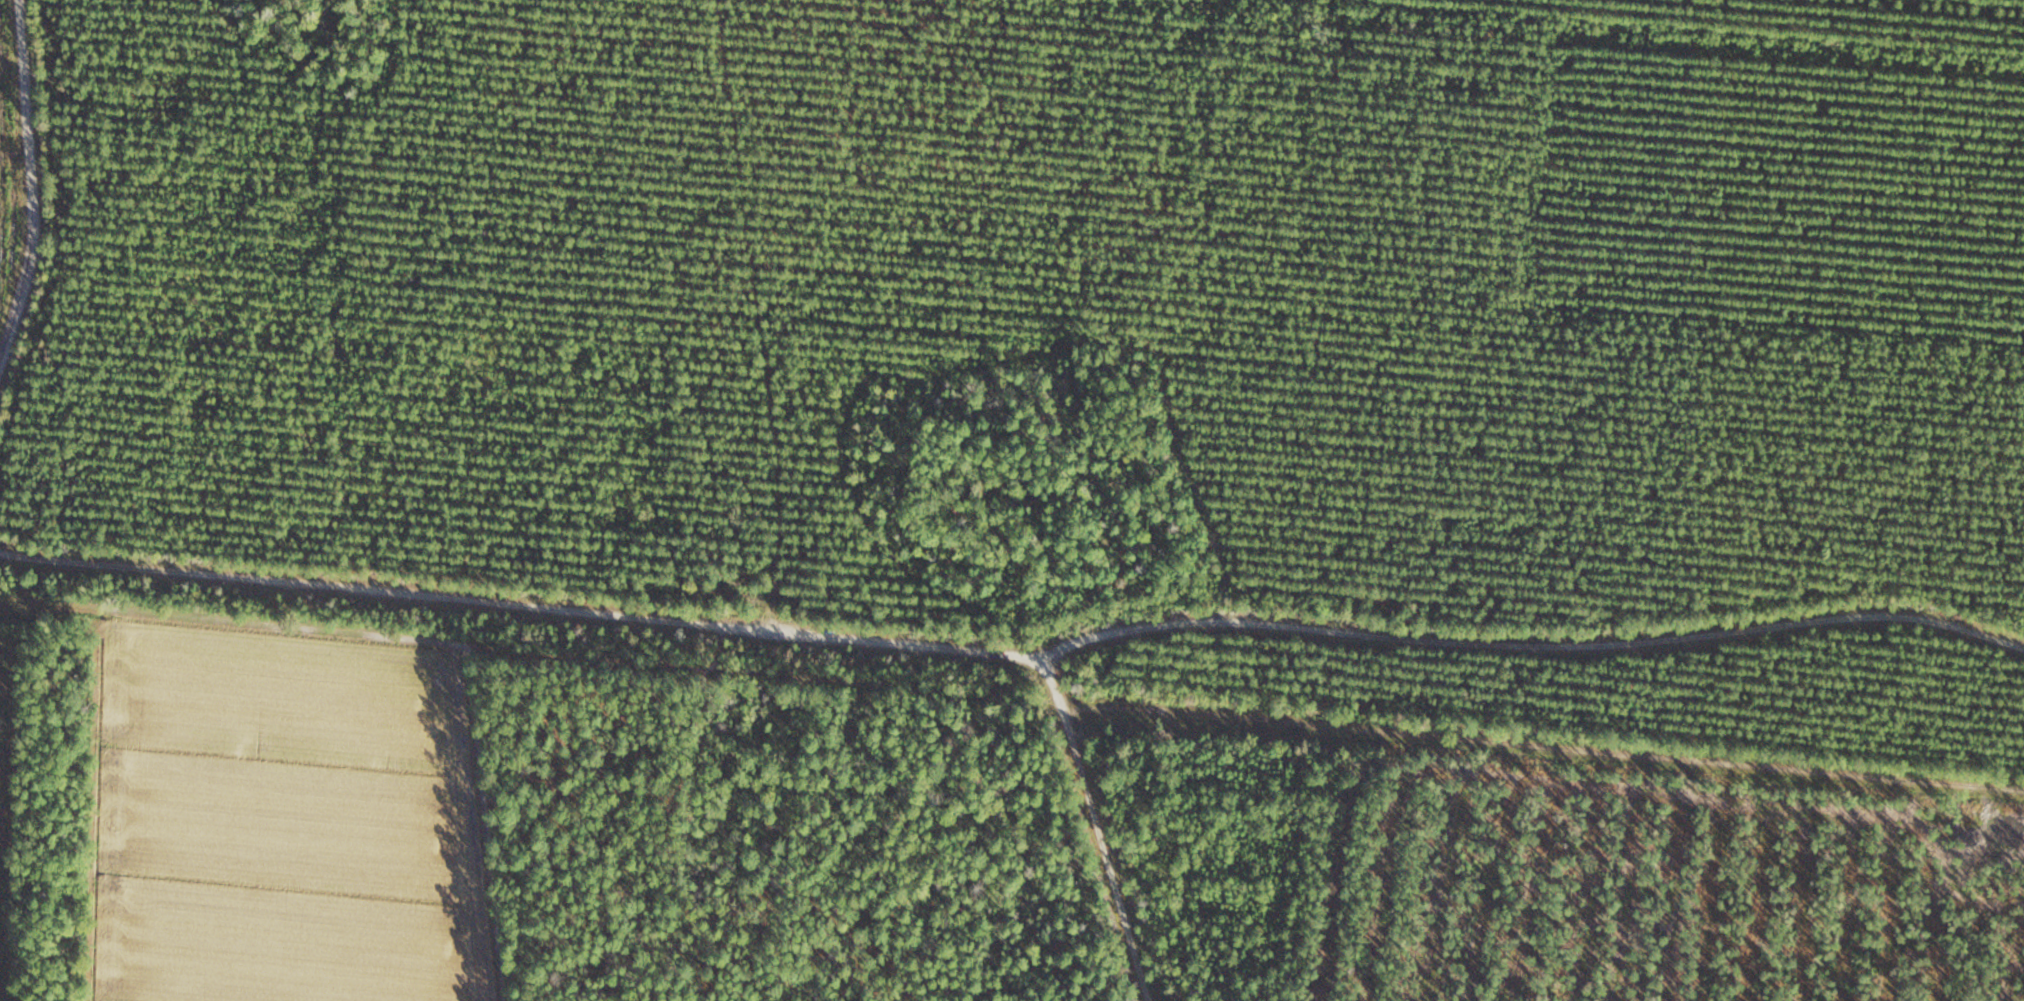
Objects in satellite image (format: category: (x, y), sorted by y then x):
road: (6, 160)
road: (1011, 676)
road: (1067, 839)

